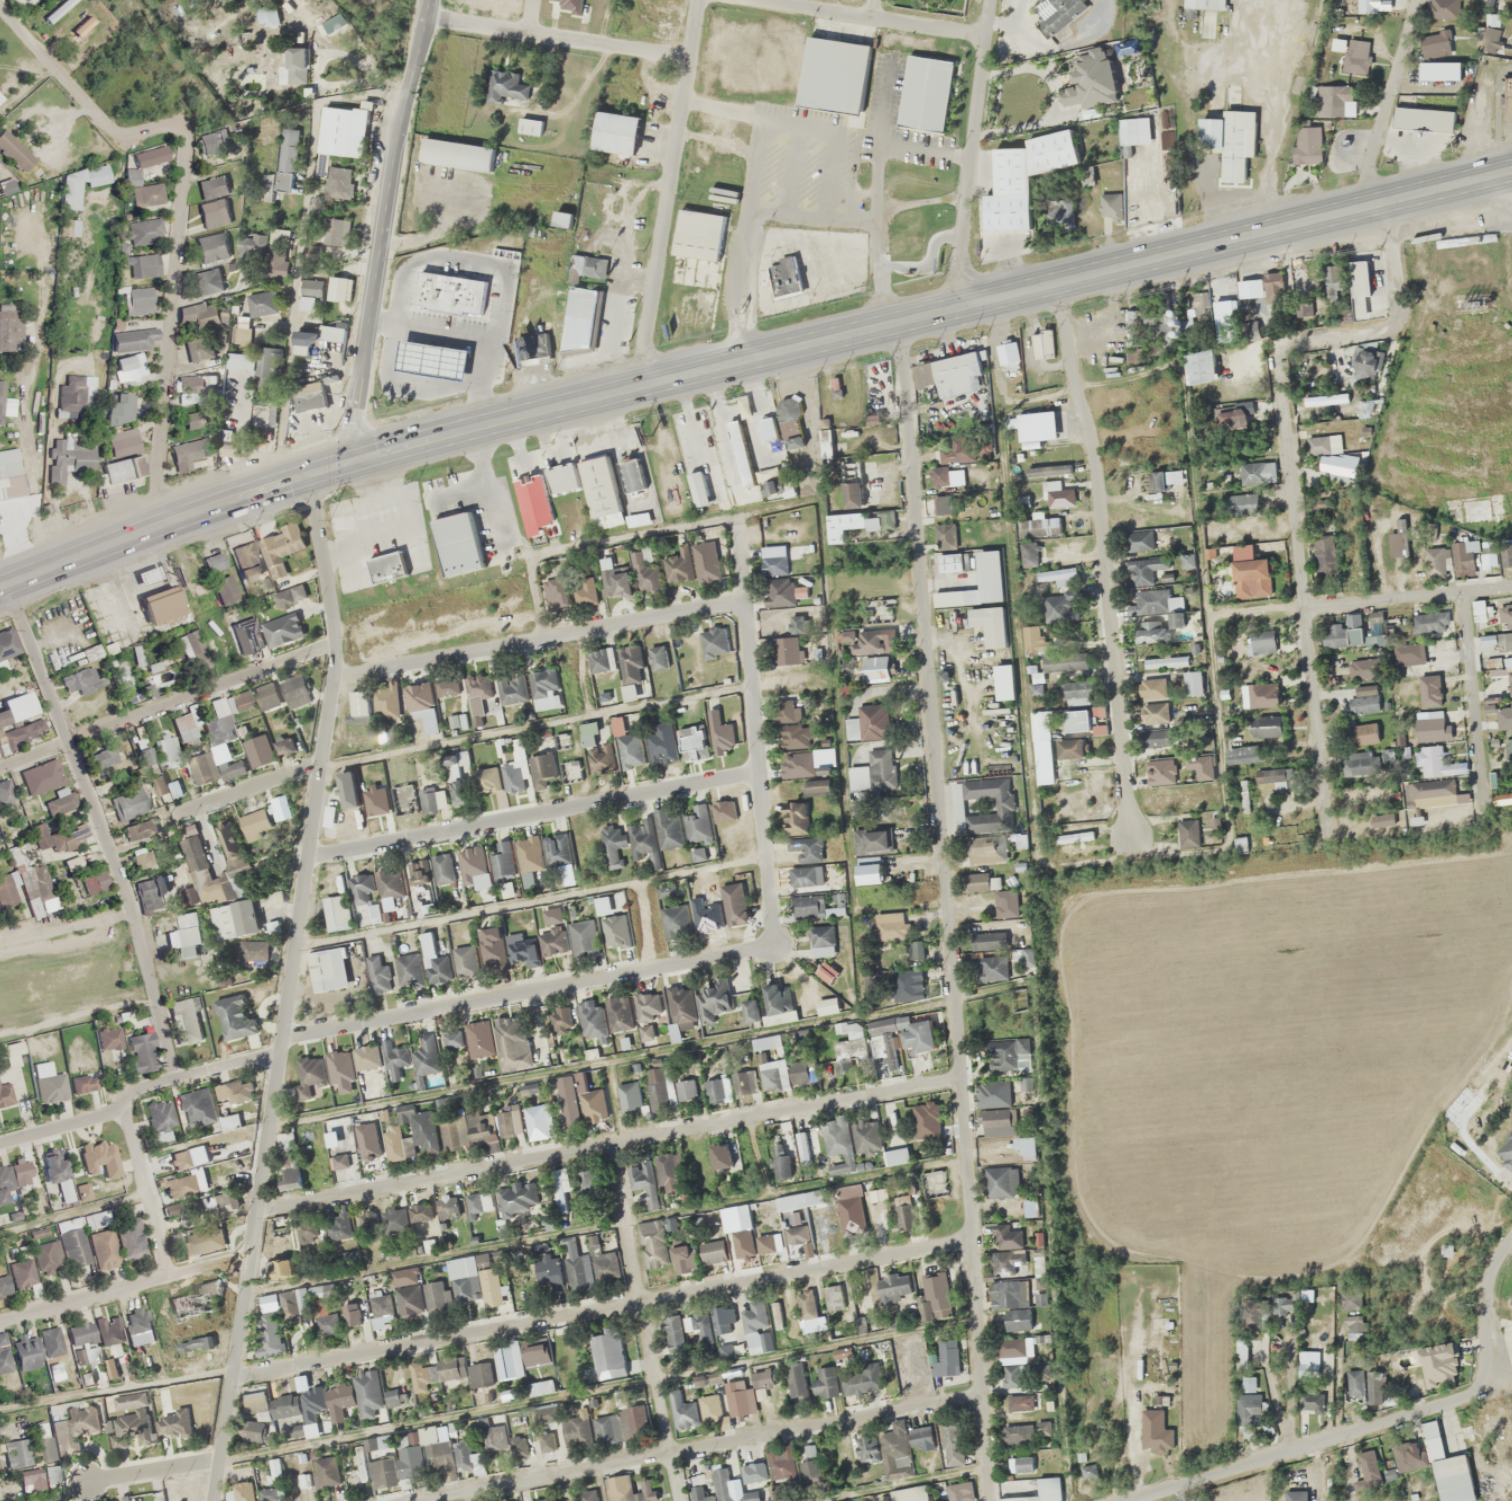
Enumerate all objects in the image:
building: (567, 4)
building: (1204, 4)
road: (871, 8)
building: (1047, 8)
building: (1443, 9)
building: (267, 13)
road: (531, 15)
road: (878, 17)
road: (556, 35)
building: (1338, 44)
building: (1439, 70)
building: (284, 75)
building: (834, 75)
building: (505, 87)
building: (925, 94)
building: (1068, 95)
building: (1, 97)
building: (1335, 100)
road: (1386, 101)
building: (615, 132)
building: (1309, 138)
building: (212, 141)
building: (1230, 141)
building: (456, 154)
road: (972, 155)
building: (149, 156)
building: (285, 160)
building: (1084, 175)
building: (1012, 180)
building: (78, 184)
building: (213, 187)
building: (146, 194)
road: (668, 194)
building: (1110, 204)
road: (180, 206)
building: (212, 208)
building: (68, 227)
building: (143, 231)
building: (336, 231)
road: (388, 231)
building: (699, 234)
building: (212, 247)
building: (312, 251)
building: (142, 265)
building: (782, 276)
building: (1348, 286)
building: (312, 288)
building: (339, 288)
road: (297, 294)
building: (262, 303)
building: (1161, 315)
building: (184, 316)
building: (580, 319)
building: (240, 333)
building: (134, 339)
building: (306, 341)
building: (1041, 344)
building: (199, 348)
building: (536, 348)
building: (1006, 352)
building: (432, 359)
road: (750, 359)
building: (241, 360)
building: (123, 363)
building: (951, 374)
building: (1366, 383)
building: (191, 389)
building: (309, 396)
building: (74, 397)
building: (1368, 408)
building: (1227, 416)
building: (195, 419)
building: (121, 424)
building: (1036, 427)
building: (767, 428)
building: (1323, 444)
road: (1285, 445)
building: (958, 450)
building: (740, 452)
building: (59, 458)
traffic signals: (353, 463)
building: (121, 469)
building: (1048, 470)
building: (1257, 472)
building: (9, 474)
building: (632, 474)
traffic signals: (308, 475)
building: (939, 475)
building: (561, 478)
building: (1158, 480)
building: (1050, 485)
building: (698, 488)
building: (600, 489)
building: (532, 504)
building: (946, 504)
building: (1241, 504)
building: (854, 522)
building: (1037, 526)
building: (944, 536)
building: (1136, 540)
building: (457, 544)
building: (1505, 552)
building: (1488, 553)
building: (265, 554)
building: (1028, 554)
building: (1324, 554)
building: (636, 558)
building: (1406, 558)
building: (1464, 558)
road: (1103, 559)
building: (773, 560)
building: (705, 561)
building: (949, 562)
building: (1435, 562)
building: (385, 567)
building: (989, 570)
building: (1144, 570)
building: (1057, 576)
building: (147, 577)
building: (221, 578)
building: (1251, 578)
building: (615, 581)
building: (584, 591)
building: (777, 592)
road: (1407, 595)
building: (1154, 602)
building: (162, 604)
building: (1057, 608)
building: (878, 610)
building: (1479, 610)
building: (100, 613)
building: (1176, 620)
building: (1429, 622)
building: (796, 624)
building: (990, 625)
building: (282, 629)
building: (1151, 631)
building: (1344, 633)
building: (247, 635)
road: (539, 635)
building: (1487, 639)
building: (1030, 640)
building: (1505, 640)
building: (1260, 641)
building: (8, 644)
building: (713, 645)
road: (926, 647)
building: (854, 648)
building: (786, 650)
building: (1409, 654)
building: (657, 657)
building: (55, 658)
building: (1508, 661)
building: (1166, 662)
building: (1492, 662)
road: (36, 663)
building: (1065, 663)
building: (629, 665)
building: (876, 668)
building: (1361, 668)
building: (84, 672)
building: (599, 673)
building: (1003, 682)
building: (1193, 682)
building: (1509, 682)
building: (543, 688)
building: (1152, 688)
road: (1471, 689)
building: (294, 691)
building: (1078, 692)
building: (418, 695)
building: (480, 695)
building: (1259, 695)
building: (1363, 700)
road: (166, 704)
building: (359, 706)
building: (786, 710)
building: (1430, 711)
building: (1155, 713)
building: (1503, 716)
building: (19, 721)
building: (1076, 721)
building: (873, 722)
building: (1040, 725)
building: (1266, 725)
building: (186, 727)
building: (242, 727)
building: (852, 729)
building: (1099, 729)
road: (752, 730)
building: (718, 731)
building: (1360, 734)
building: (794, 737)
building: (1155, 738)
building: (661, 743)
building: (627, 745)
building: (1507, 747)
building: (166, 749)
building: (1070, 749)
building: (596, 751)
building: (145, 755)
building: (1242, 756)
building: (102, 758)
building: (1437, 761)
building: (1359, 762)
building: (797, 764)
building: (1199, 764)
building: (522, 765)
building: (453, 766)
building: (203, 768)
building: (881, 769)
building: (42, 777)
building: (1275, 777)
building: (487, 779)
building: (159, 785)
building: (817, 787)
road: (248, 788)
building: (347, 789)
building: (789, 789)
building: (5, 791)
building: (1433, 792)
building: (427, 800)
building: (59, 803)
building: (129, 804)
building: (1185, 804)
building: (279, 808)
building: (724, 810)
road: (530, 813)
building: (795, 817)
building: (986, 819)
building: (698, 822)
building: (668, 828)
building: (141, 833)
building: (60, 837)
building: (643, 839)
building: (871, 840)
building: (612, 844)
building: (1240, 844)
building: (581, 846)
building: (557, 849)
building: (529, 853)
building: (147, 858)
building: (503, 859)
building: (805, 862)
building: (194, 864)
building: (475, 866)
building: (442, 868)
building: (869, 870)
building: (418, 873)
building: (977, 882)
building: (389, 883)
building: (83, 885)
building: (362, 888)
building: (8, 890)
building: (1005, 903)
building: (734, 904)
building: (603, 905)
building: (818, 905)
road: (128, 906)
building: (337, 912)
building: (233, 920)
building: (675, 921)
building: (616, 931)
building: (186, 933)
building: (552, 934)
road: (67, 936)
building: (583, 938)
building: (822, 940)
building: (987, 941)
building: (427, 943)
building: (493, 947)
building: (522, 949)
building: (254, 950)
building: (915, 950)
building: (465, 960)
building: (988, 968)
building: (328, 969)
building: (438, 969)
building: (408, 970)
building: (826, 971)
building: (378, 972)
building: (907, 984)
road: (286, 988)
road: (527, 990)
building: (717, 996)
building: (777, 998)
building: (827, 1005)
building: (647, 1006)
building: (682, 1007)
building: (751, 1010)
building: (619, 1013)
building: (234, 1016)
building: (559, 1019)
building: (592, 1019)
building: (882, 1025)
building: (855, 1030)
building: (647, 1035)
building: (918, 1036)
building: (109, 1038)
building: (480, 1038)
building: (512, 1043)
building: (454, 1045)
building: (12, 1048)
building: (142, 1052)
building: (427, 1052)
building: (1007, 1055)
building: (366, 1056)
building: (395, 1061)
building: (339, 1072)
building: (309, 1076)
building: (774, 1076)
building: (83, 1083)
building: (370, 1084)
building: (51, 1087)
building: (668, 1087)
building: (528, 1088)
road: (133, 1089)
building: (717, 1089)
building: (239, 1090)
building: (5, 1095)
building: (629, 1096)
building: (580, 1102)
road: (962, 1103)
building: (994, 1105)
building: (197, 1106)
building: (160, 1119)
building: (926, 1120)
building: (539, 1121)
building: (508, 1122)
building: (453, 1129)
building: (411, 1134)
building: (836, 1136)
building: (867, 1137)
building: (366, 1138)
building: (224, 1141)
road: (606, 1142)
building: (1506, 1150)
building: (721, 1155)
building: (897, 1156)
building: (101, 1158)
building: (781, 1160)
building: (342, 1168)
building: (668, 1172)
building: (57, 1173)
building: (290, 1174)
building: (13, 1179)
building: (644, 1181)
building: (1001, 1181)
building: (181, 1186)
road: (145, 1190)
building: (559, 1191)
building: (517, 1198)
building: (446, 1207)
building: (1028, 1208)
building: (175, 1210)
building: (851, 1215)
building: (744, 1216)
building: (367, 1219)
building: (95, 1220)
building: (392, 1222)
building: (423, 1222)
building: (335, 1223)
building: (307, 1231)
building: (797, 1234)
building: (1007, 1235)
building: (130, 1238)
building: (203, 1241)
building: (769, 1242)
building: (73, 1243)
building: (739, 1244)
building: (654, 1246)
building: (104, 1249)
building: (712, 1252)
building: (684, 1258)
building: (48, 1259)
building: (1006, 1262)
building: (578, 1267)
building: (280, 1268)
building: (549, 1269)
building: (22, 1273)
building: (474, 1281)
building: (4, 1286)
road: (123, 1286)
building: (895, 1287)
building: (859, 1291)
building: (319, 1292)
building: (1511, 1297)
building: (422, 1298)
building: (292, 1303)
building: (190, 1304)
building: (835, 1304)
building: (1010, 1304)
building: (806, 1305)
road: (600, 1306)
building: (1281, 1308)
building: (381, 1310)
building: (778, 1310)
building: (352, 1315)
building: (753, 1317)
building: (724, 1318)
building: (326, 1320)
road: (645, 1321)
building: (700, 1322)
building: (139, 1325)
building: (109, 1329)
building: (1355, 1329)
building: (673, 1332)
building: (268, 1333)
building: (81, 1334)
building: (51, 1342)
building: (193, 1346)
building: (740, 1346)
building: (1013, 1348)
building: (26, 1351)
building: (608, 1352)
building: (538, 1353)
building: (1241, 1354)
building: (512, 1359)
building: (945, 1359)
building: (4, 1360)
building: (1440, 1364)
road: (979, 1369)
building: (450, 1370)
building: (480, 1374)
building: (1041, 1374)
building: (1016, 1376)
building: (418, 1378)
building: (763, 1378)
building: (861, 1379)
building: (796, 1380)
building: (826, 1383)
building: (1356, 1383)
building: (1249, 1384)
building: (541, 1387)
building: (1309, 1389)
building: (507, 1394)
building: (355, 1396)
building: (740, 1397)
building: (397, 1398)
building: (255, 1402)
building: (1020, 1403)
building: (284, 1405)
building: (710, 1407)
building: (683, 1410)
building: (311, 1413)
building: (545, 1413)
road: (1378, 1421)
building: (130, 1422)
road: (825, 1422)
building: (173, 1424)
building: (620, 1425)
building: (71, 1428)
building: (1157, 1428)
building: (252, 1431)
building: (496, 1431)
building: (578, 1433)
building: (1430, 1434)
building: (1017, 1435)
building: (921, 1438)
building: (954, 1439)
building: (382, 1441)
building: (519, 1446)
building: (868, 1447)
building: (45, 1448)
building: (435, 1453)
building: (16, 1454)
building: (1024, 1463)
building: (241, 1469)
building: (1088, 1470)
road: (155, 1471)
building: (326, 1471)
building: (273, 1472)
building: (754, 1472)
building: (51, 1475)
road: (541, 1476)
building: (1451, 1477)
building: (30, 1479)
building: (303, 1480)
building: (722, 1489)
building: (648, 1490)
building: (271, 1494)
building: (587, 1495)
building: (1295, 1496)
building: (122, 1500)

